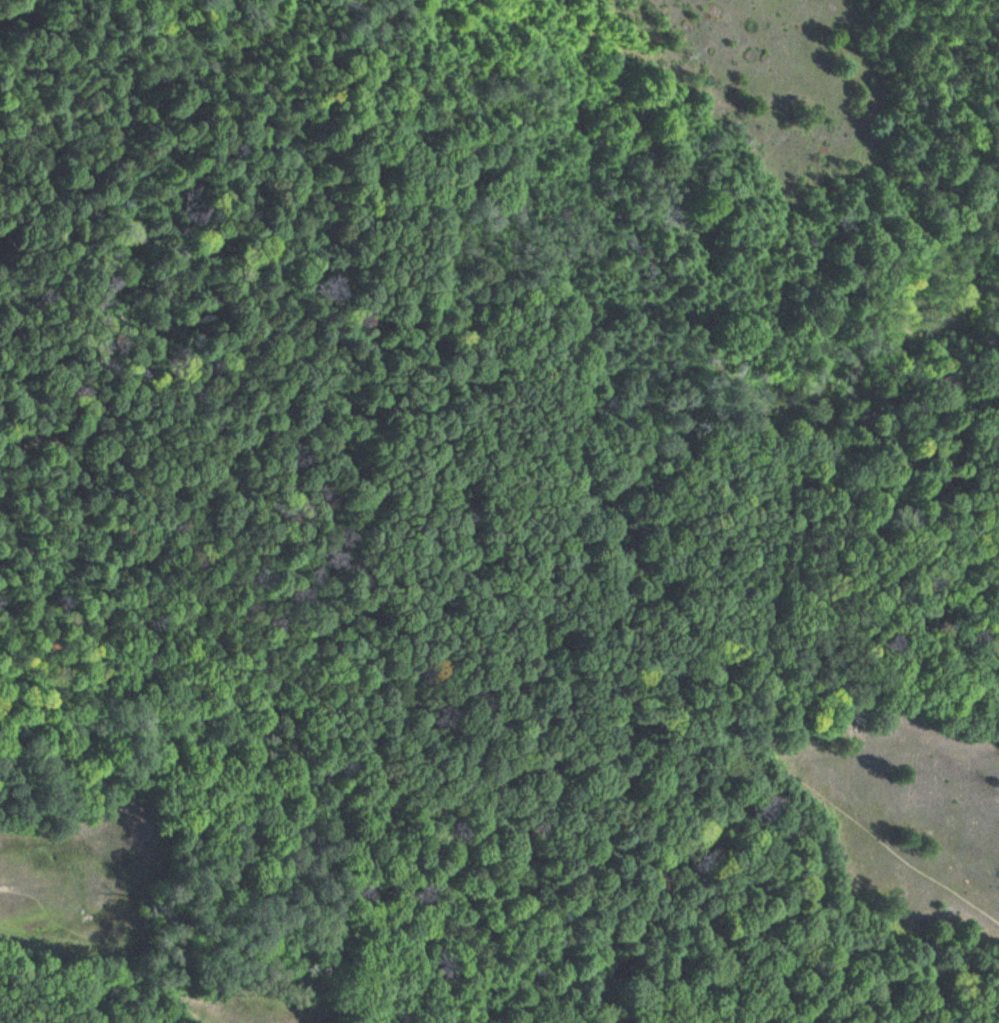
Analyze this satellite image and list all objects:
road: (413, 11)
road: (111, 93)
road: (346, 159)
road: (500, 566)
road: (730, 738)
road: (125, 943)

